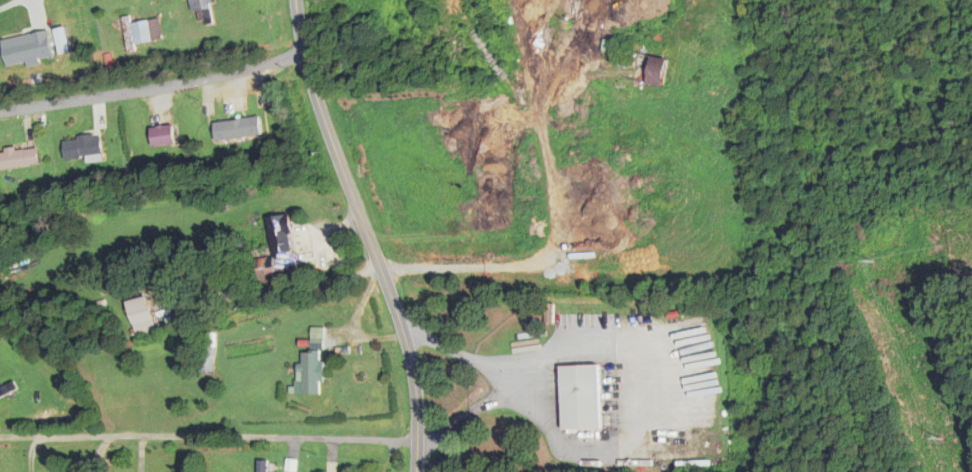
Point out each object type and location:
road: (9, 5)
building: (647, 10)
building: (202, 11)
building: (142, 31)
building: (7, 52)
building: (648, 71)
road: (152, 89)
building: (237, 130)
building: (162, 136)
building: (83, 149)
building: (18, 159)
road: (366, 234)
building: (275, 254)
building: (139, 317)
building: (310, 374)
road: (501, 382)
building: (7, 390)
building: (580, 398)
road: (640, 398)
road: (209, 437)
road: (32, 452)
building: (261, 467)

